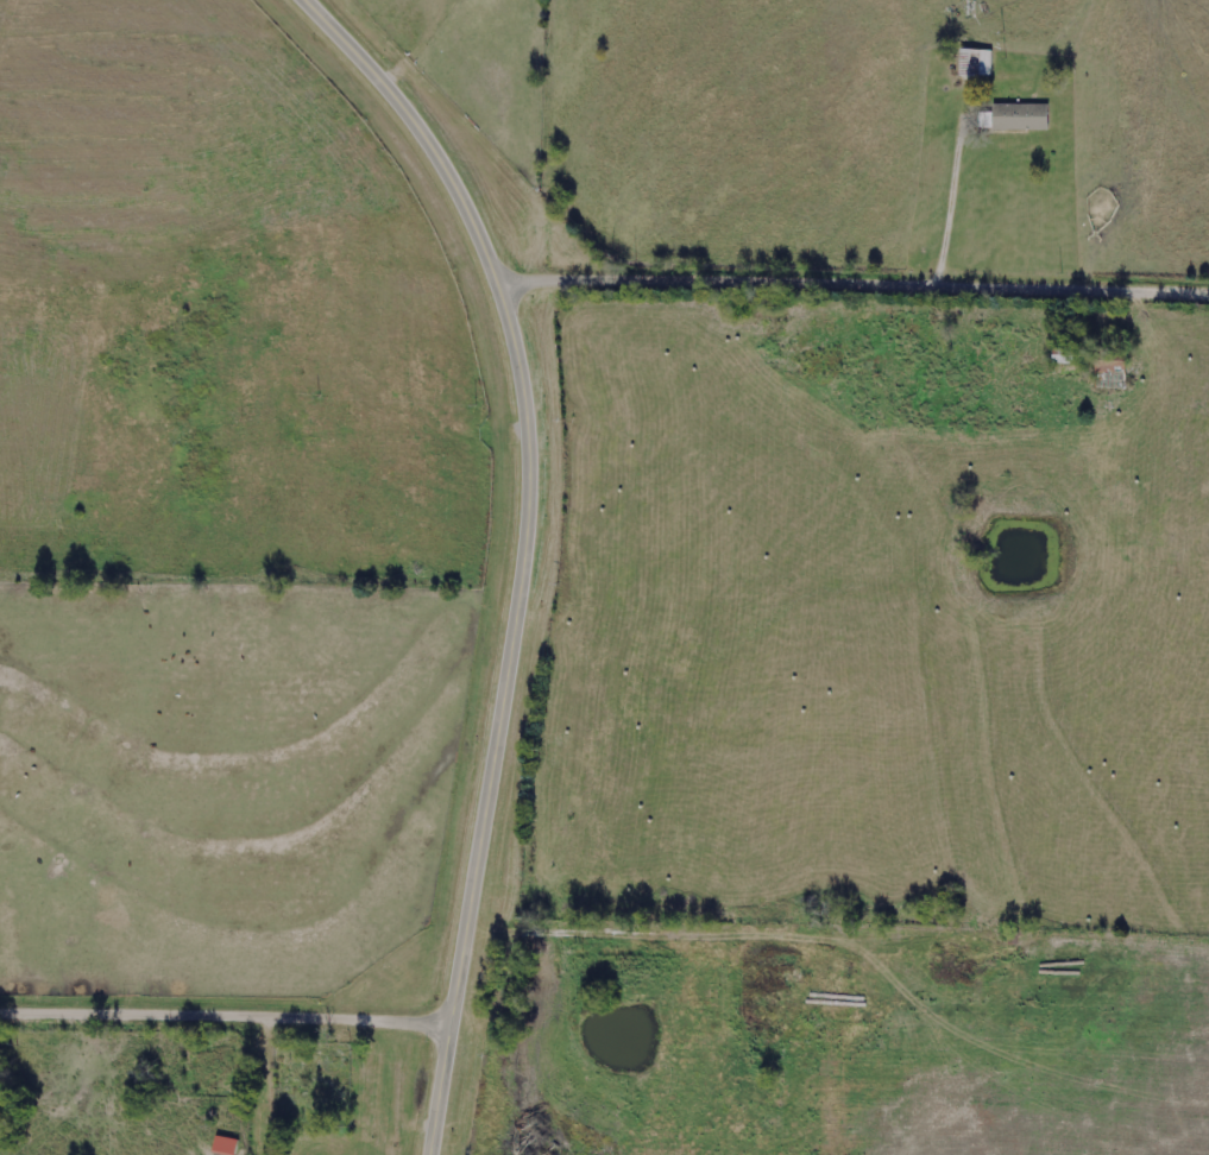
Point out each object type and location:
road: (414, 42)
building: (976, 63)
building: (1021, 118)
road: (950, 187)
road: (856, 274)
building: (1113, 372)
road: (527, 548)
road: (659, 919)
road: (225, 1006)
road: (264, 1053)
building: (215, 1067)
building: (335, 1085)
building: (273, 1124)
building: (258, 1132)
building: (229, 1145)

